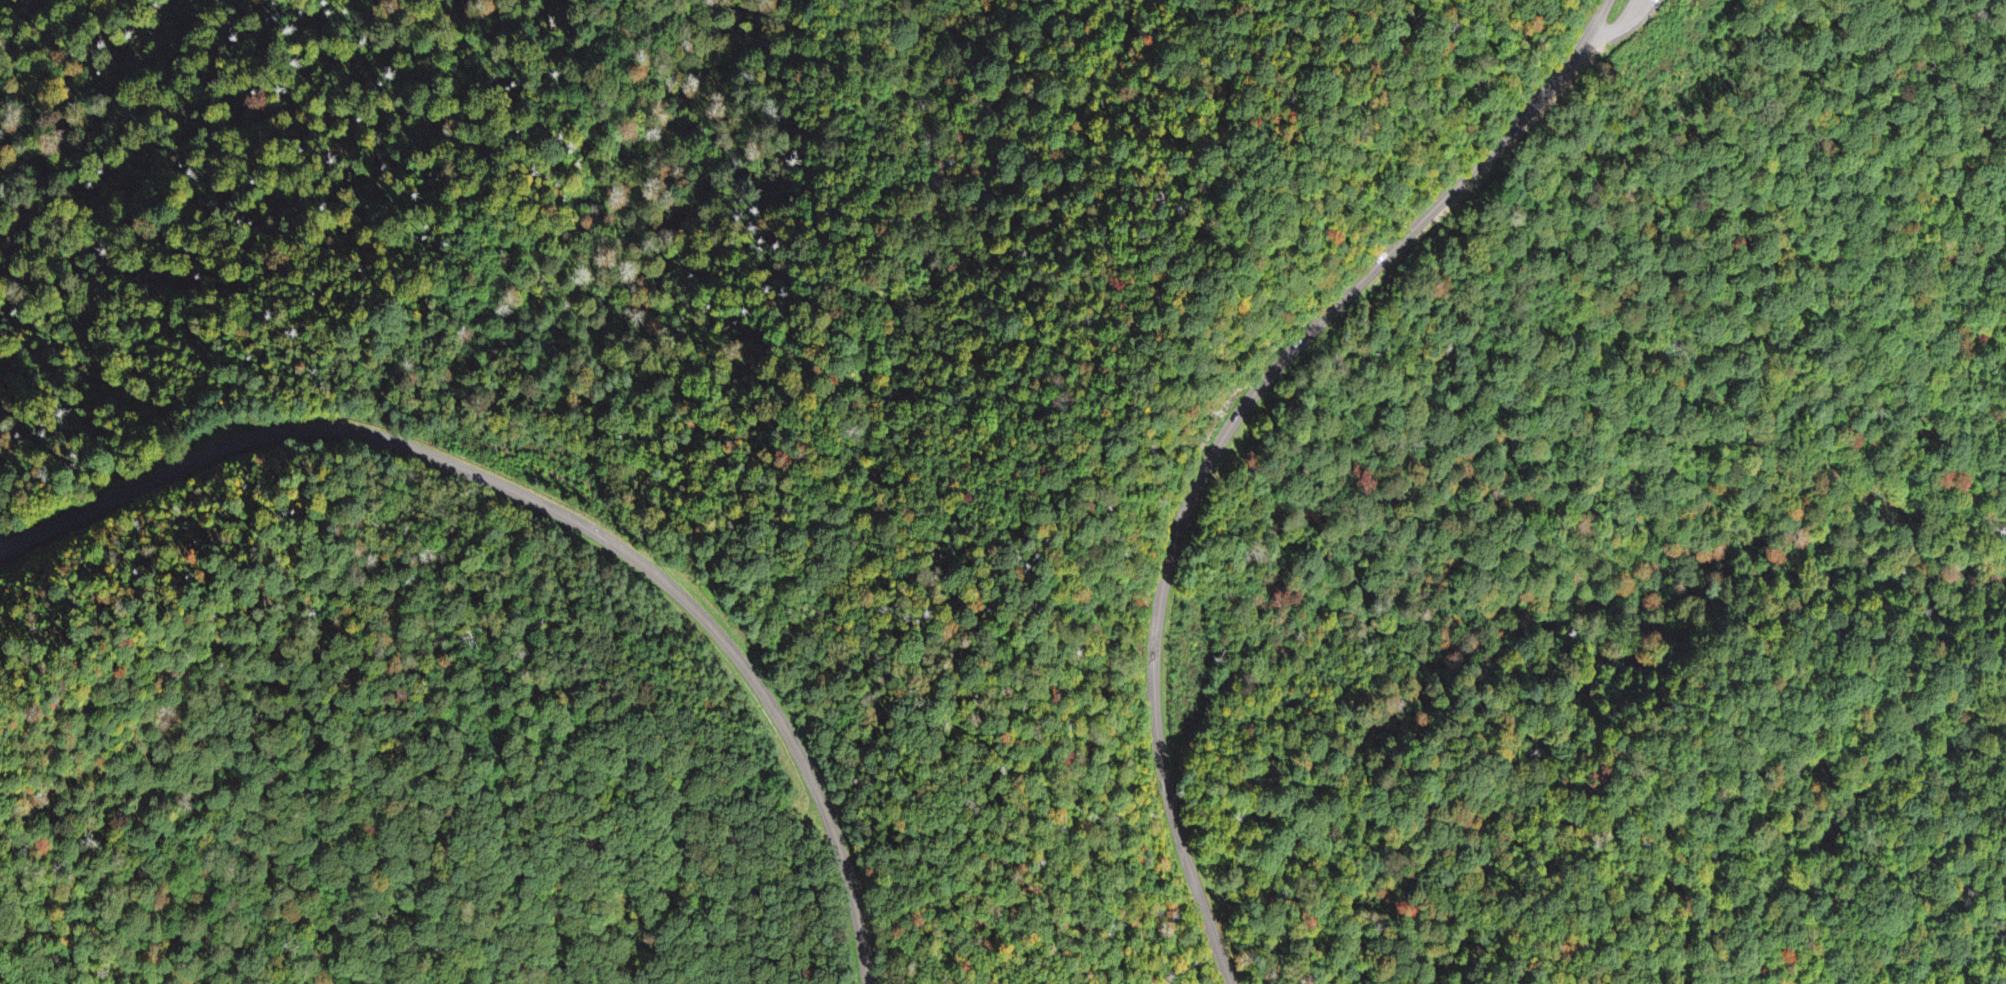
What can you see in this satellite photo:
road: (913, 2)
parking lot: (1622, 21)
road: (1617, 27)
road: (336, 429)
road: (1226, 432)
road: (803, 761)

